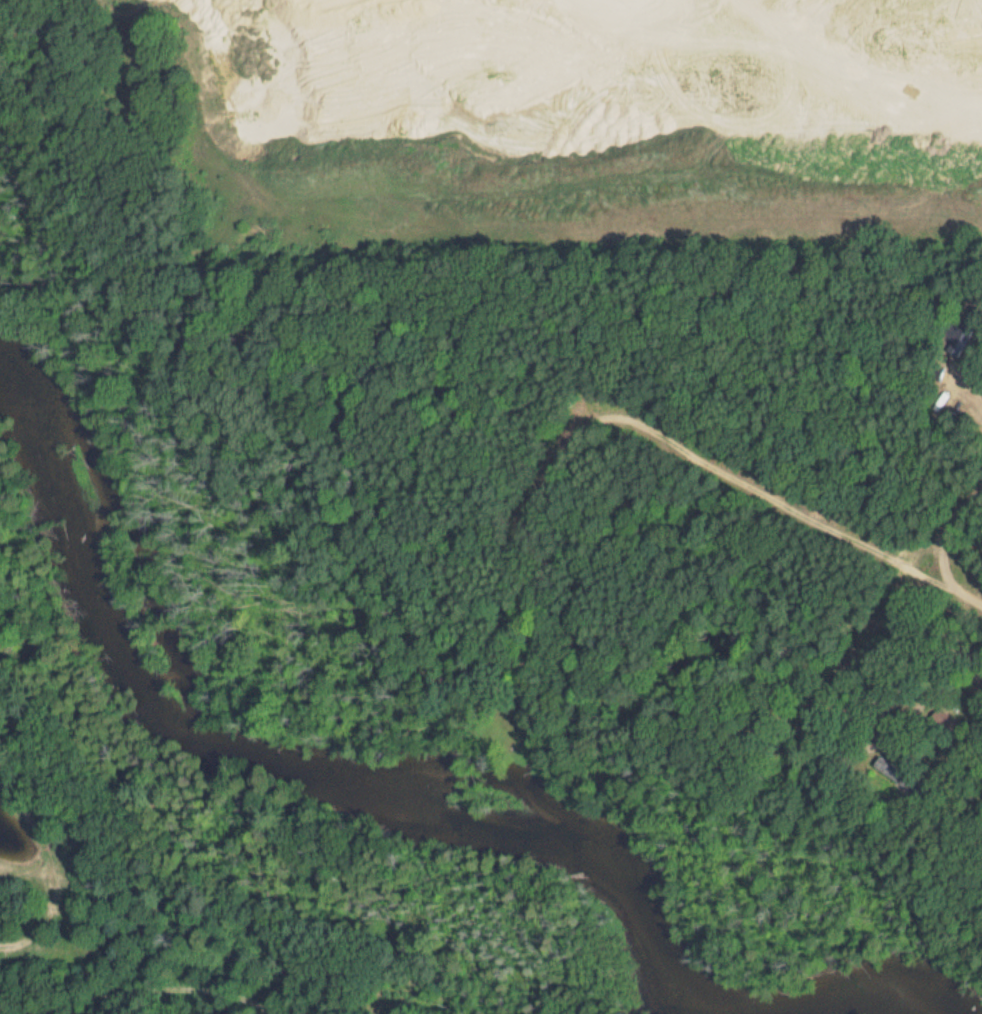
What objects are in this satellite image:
quarry: (560, 119)
road: (851, 137)
road: (823, 141)
road: (905, 247)
building: (963, 331)
building: (943, 722)
river: (320, 780)
river: (862, 1000)

